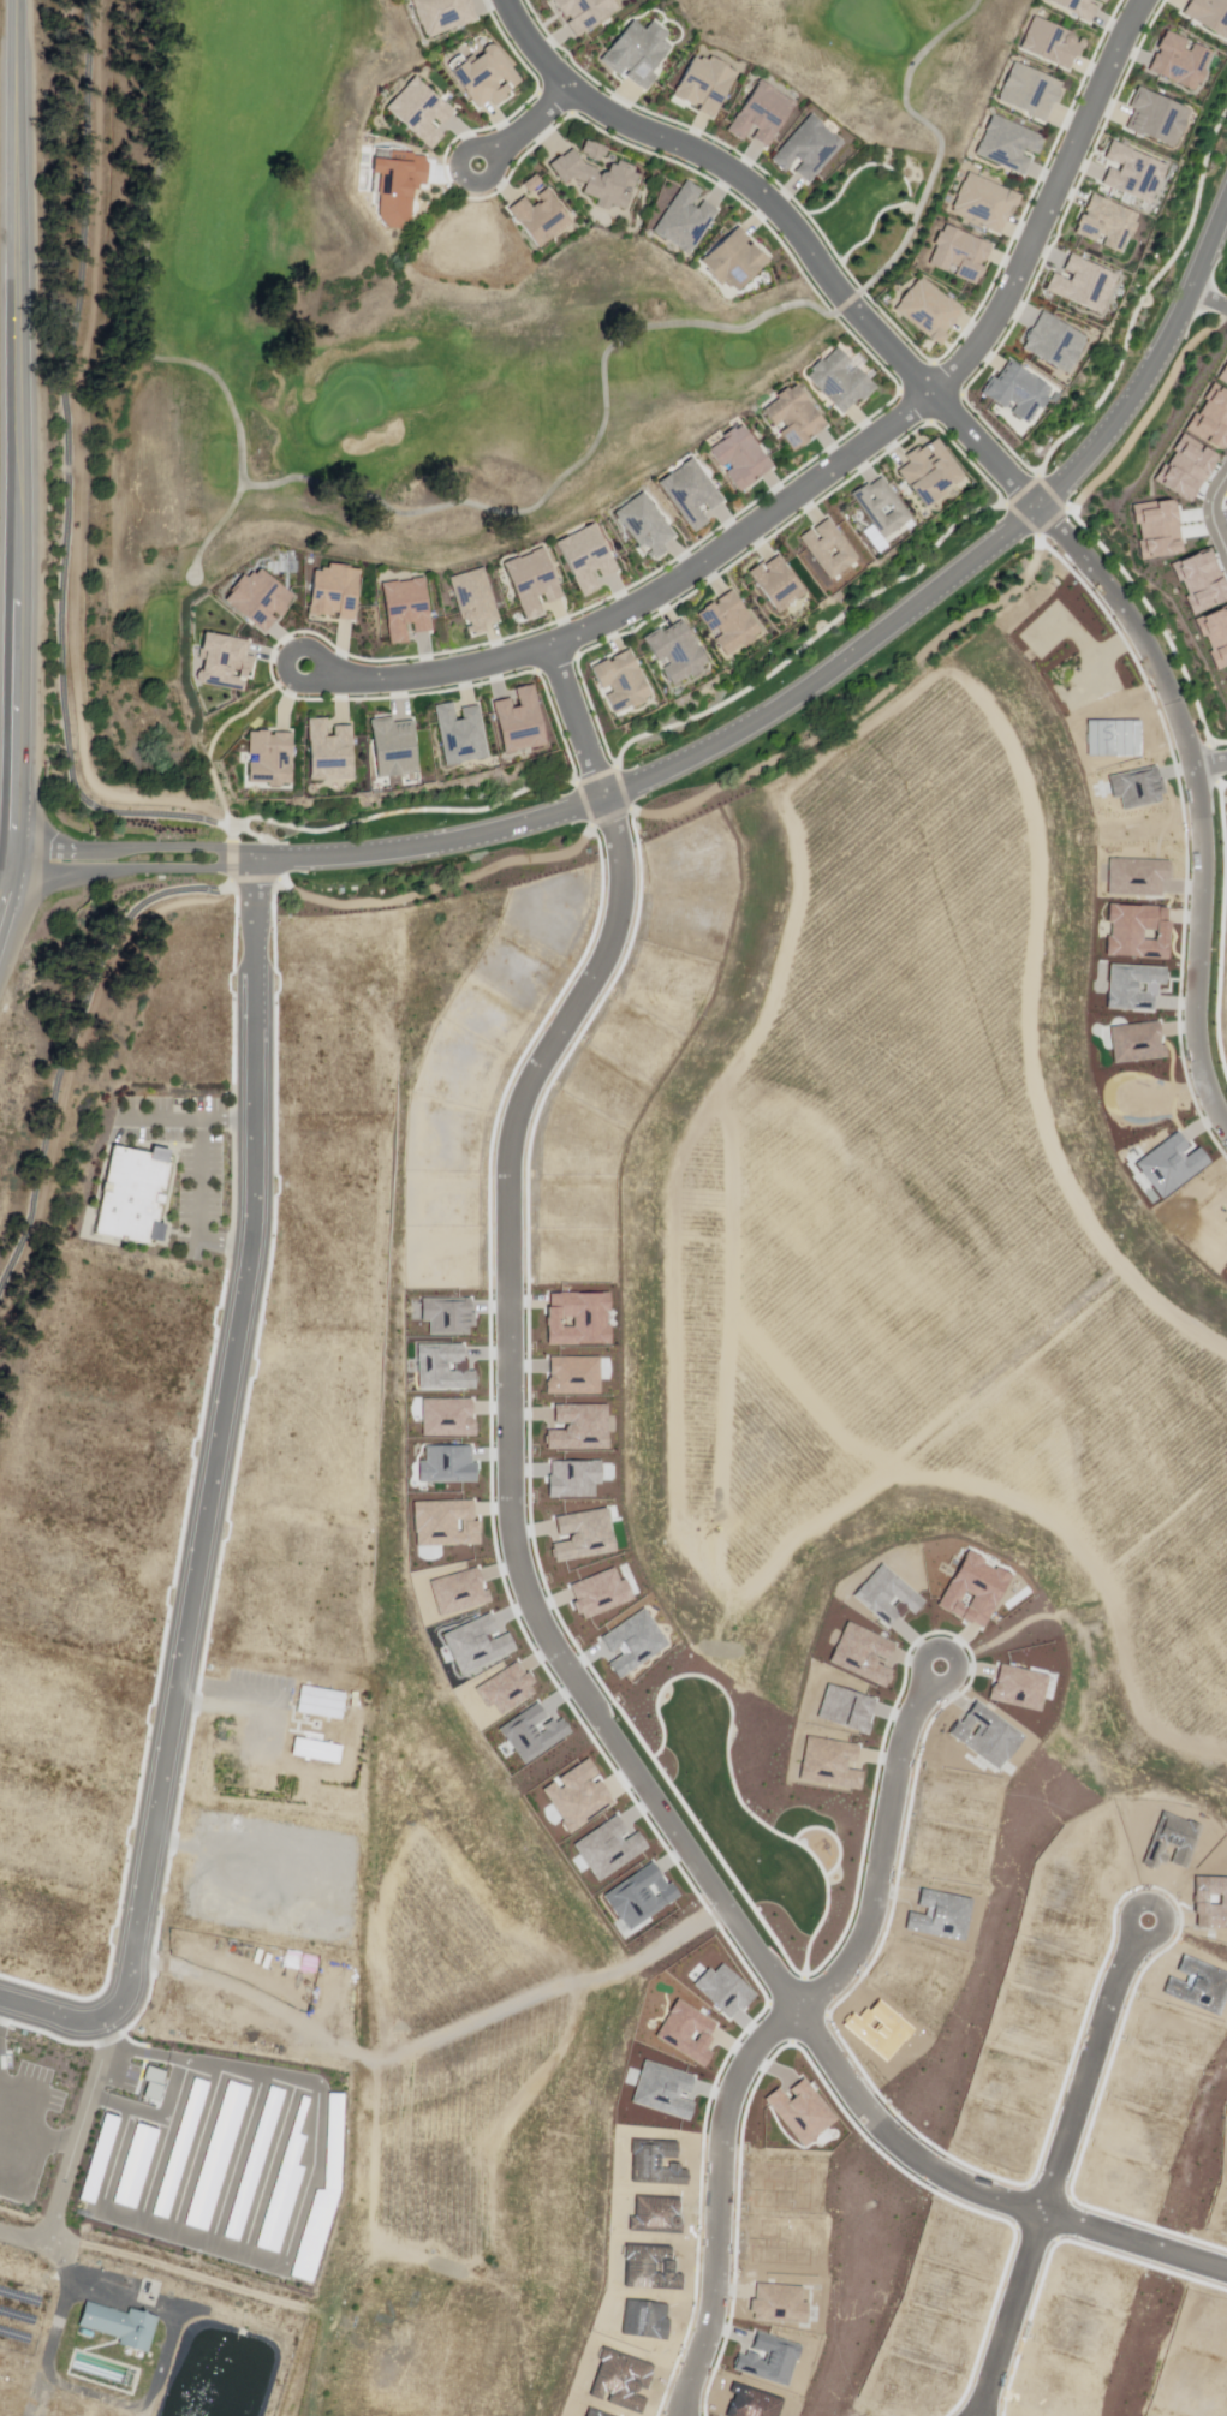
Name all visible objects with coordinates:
building: (1097, 1)
building: (1072, 8)
building: (586, 11)
building: (446, 13)
building: (1208, 14)
park: (871, 24)
building: (1048, 42)
building: (641, 50)
building: (1178, 61)
park: (886, 62)
building: (487, 73)
building: (707, 82)
building: (1028, 90)
building: (412, 109)
building: (764, 111)
building: (1156, 118)
road: (522, 126)
road: (940, 135)
building: (1009, 144)
building: (811, 145)
building: (596, 148)
building: (1133, 171)
building: (600, 177)
building: (535, 180)
building: (984, 203)
building: (542, 216)
building: (687, 216)
building: (1104, 223)
building: (959, 252)
building: (734, 262)
park: (457, 272)
building: (1083, 285)
road: (1207, 302)
building: (931, 308)
building: (1054, 341)
road: (887, 346)
park: (323, 353)
building: (842, 378)
building: (1223, 381)
parking lot: (1223, 381)
building: (1017, 390)
park: (350, 408)
building: (797, 414)
building: (1209, 422)
parking lot: (1209, 422)
road: (14, 451)
building: (741, 459)
building: (1186, 463)
parking lot: (1186, 463)
building: (933, 470)
road: (827, 471)
road: (329, 489)
building: (692, 491)
building: (883, 505)
building: (648, 524)
building: (1157, 527)
road: (212, 531)
building: (830, 548)
building: (589, 555)
building: (1198, 579)
building: (535, 580)
building: (780, 583)
building: (332, 591)
building: (476, 597)
building: (256, 598)
building: (407, 606)
building: (732, 621)
building: (1215, 636)
building: (679, 650)
building: (226, 660)
building: (624, 680)
building: (522, 720)
road: (574, 722)
building: (463, 732)
road: (734, 733)
road: (73, 742)
building: (389, 746)
building: (332, 750)
building: (268, 757)
road: (1214, 763)
road: (1207, 937)
road: (191, 1120)
parking lot: (183, 1147)
building: (136, 1199)
road: (202, 1204)
road: (743, 1319)
road: (218, 1440)
road: (53, 2014)
road: (26, 2236)
building: (121, 2329)
road: (55, 2346)

